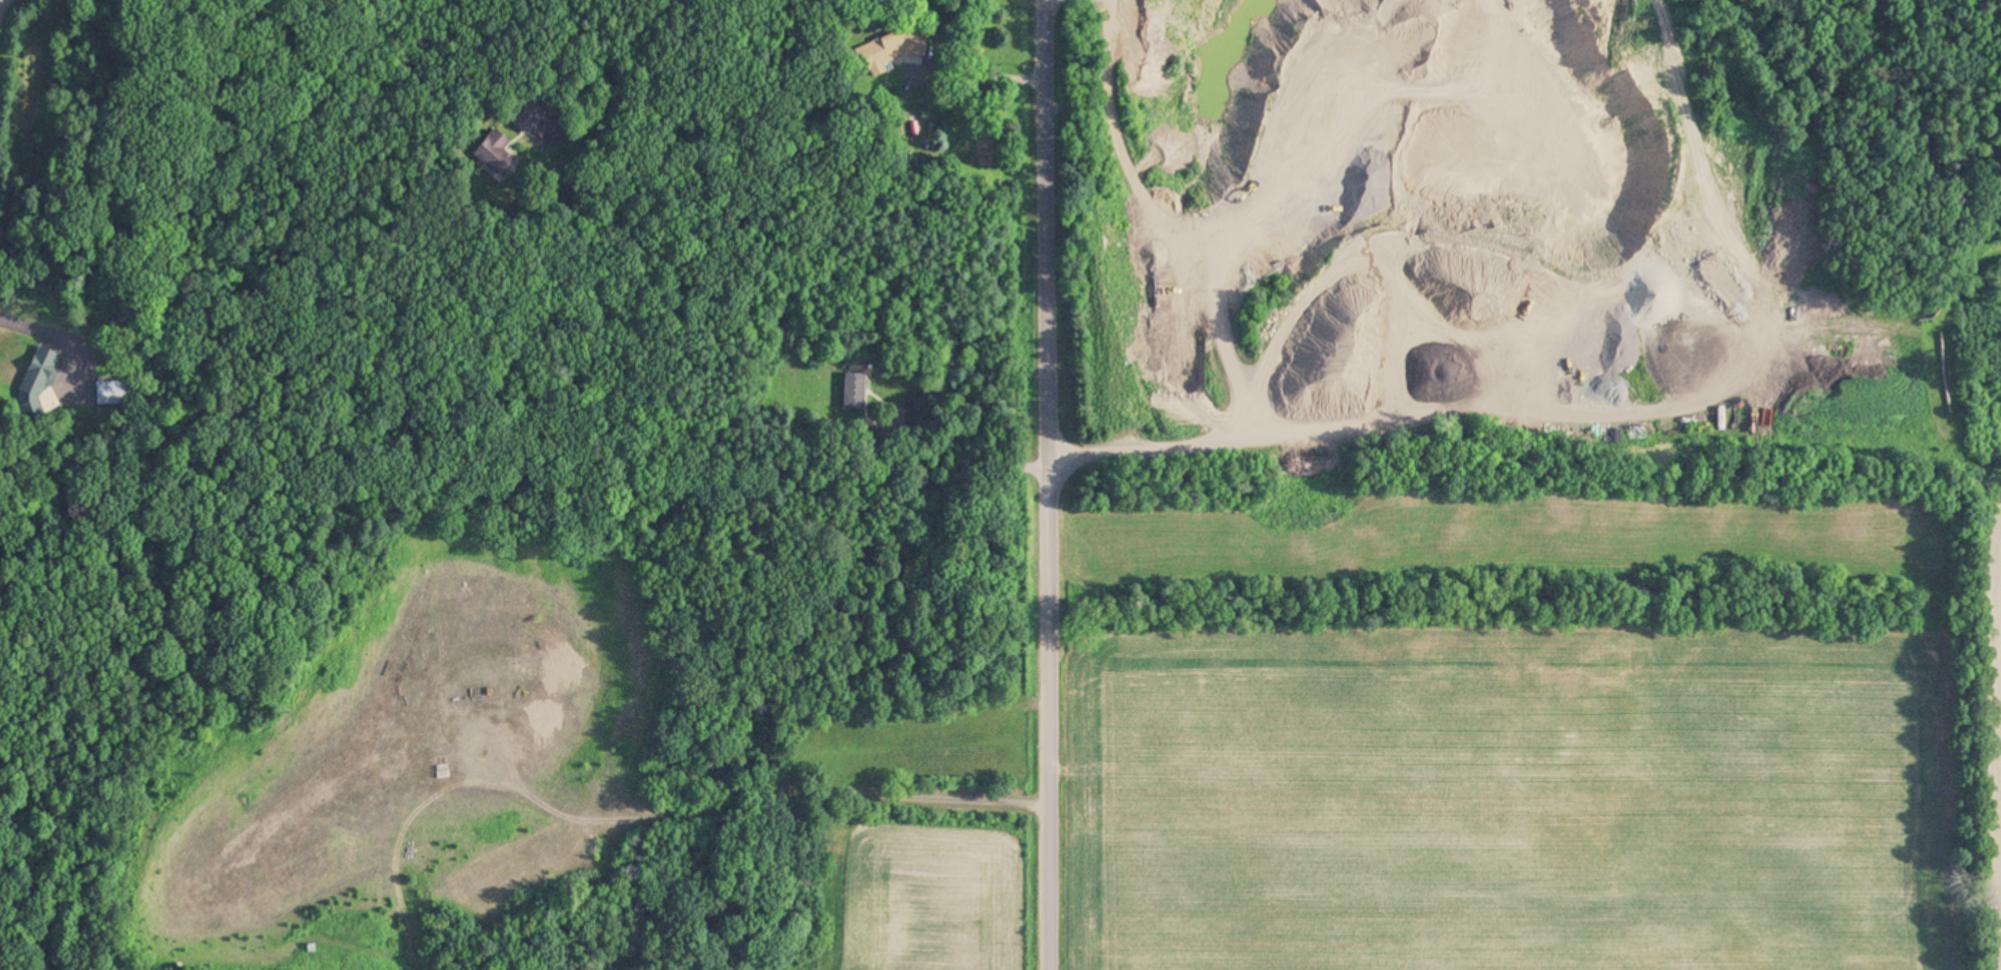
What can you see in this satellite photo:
road: (1, 2)
building: (893, 51)
building: (529, 117)
building: (495, 154)
quarry: (1528, 247)
building: (40, 374)
building: (856, 392)
building: (112, 394)
road: (1049, 484)
crop: (1532, 733)

